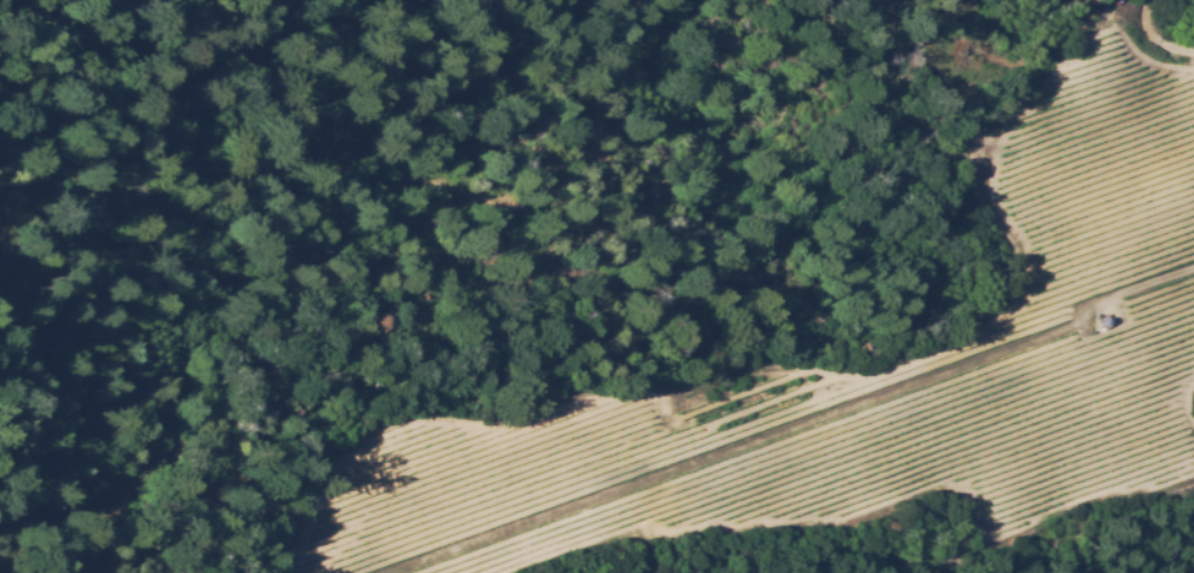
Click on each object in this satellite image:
building: (1106, 323)

